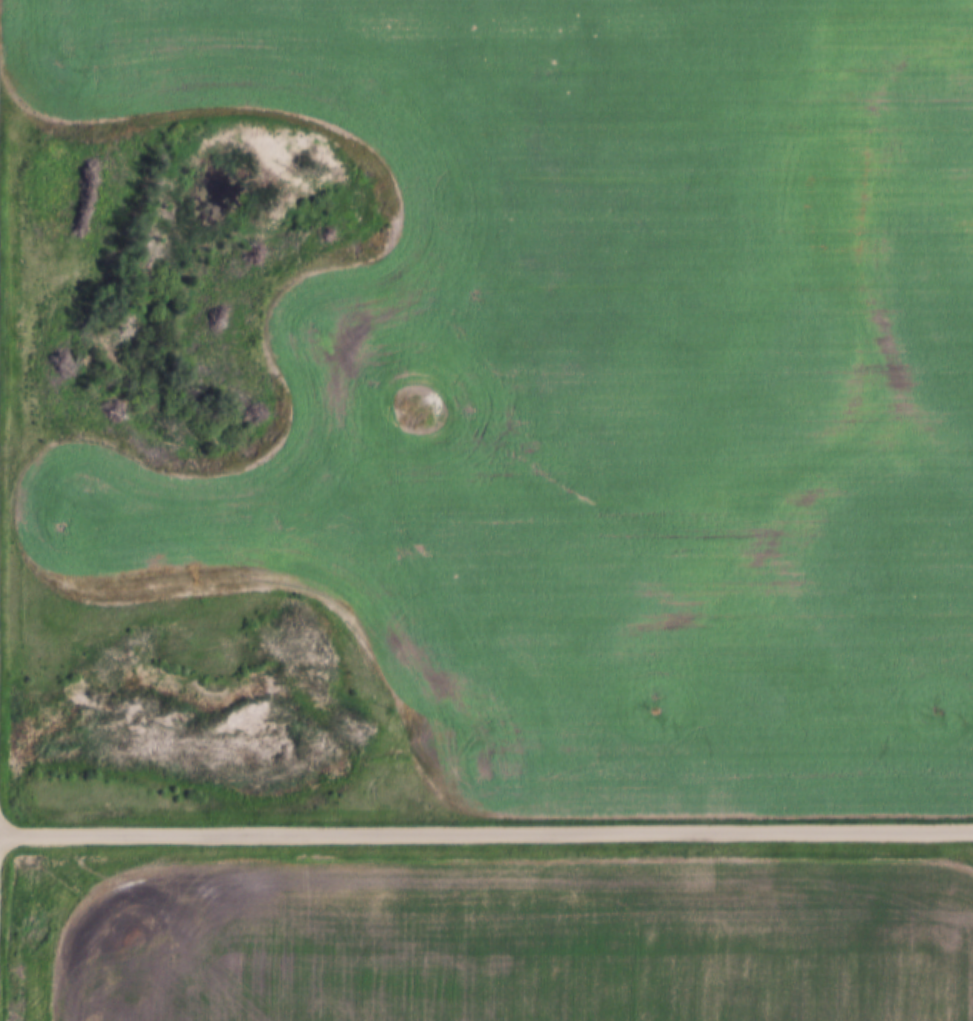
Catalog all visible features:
road: (486, 834)

